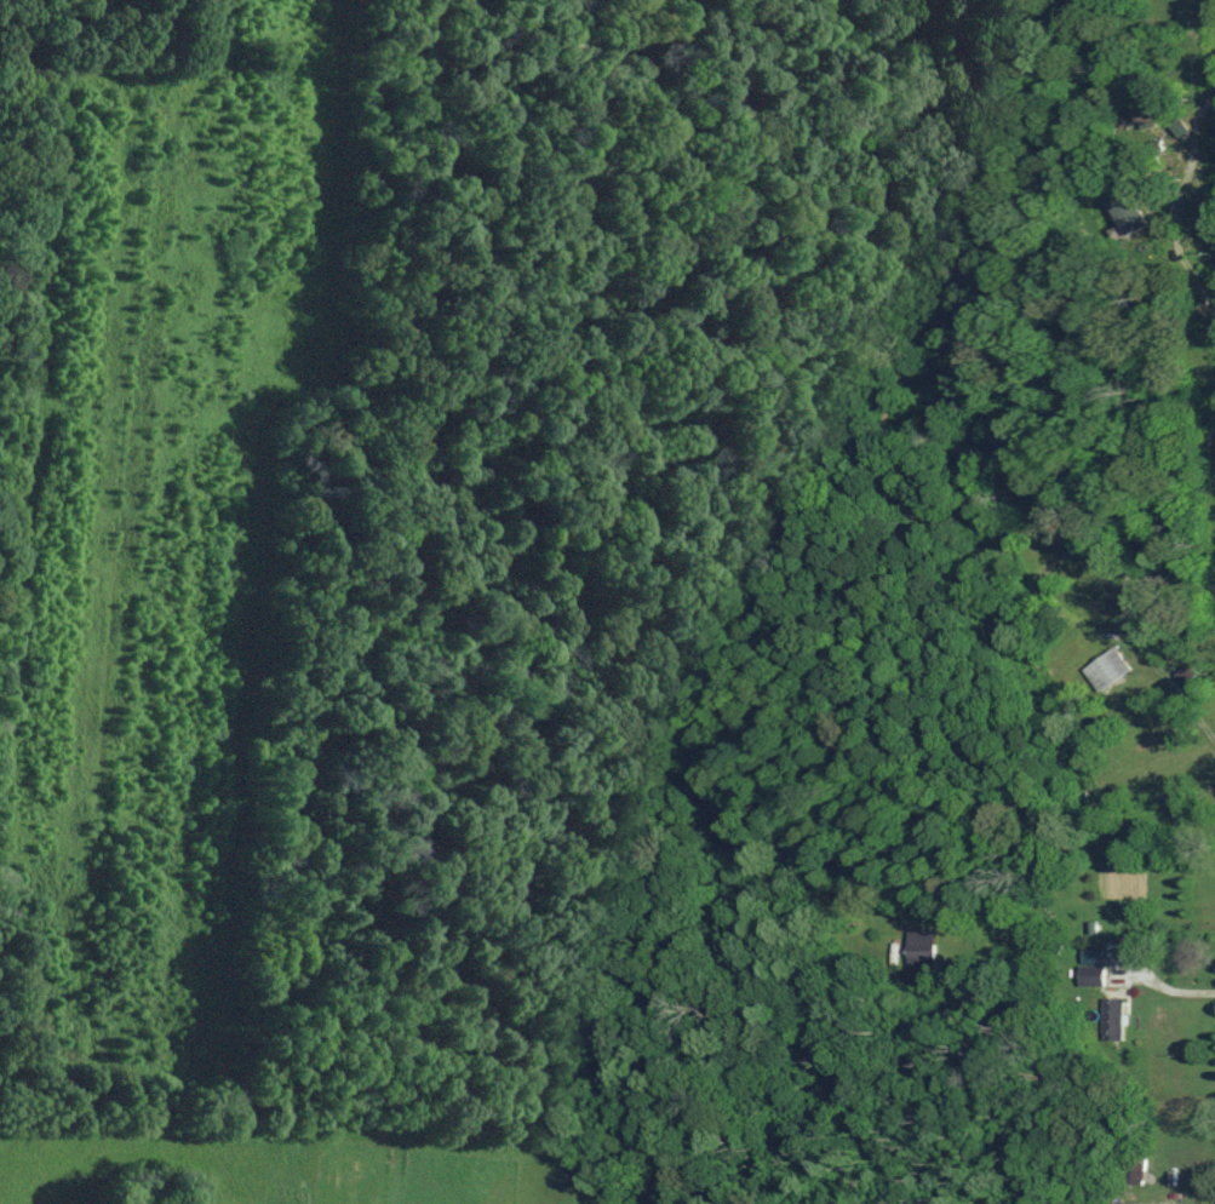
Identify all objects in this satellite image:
road: (1207, 189)
building: (1125, 211)
building: (1107, 667)
road: (1177, 673)
road: (1090, 956)
building: (1091, 974)
building: (1110, 1019)
road: (1160, 1196)

